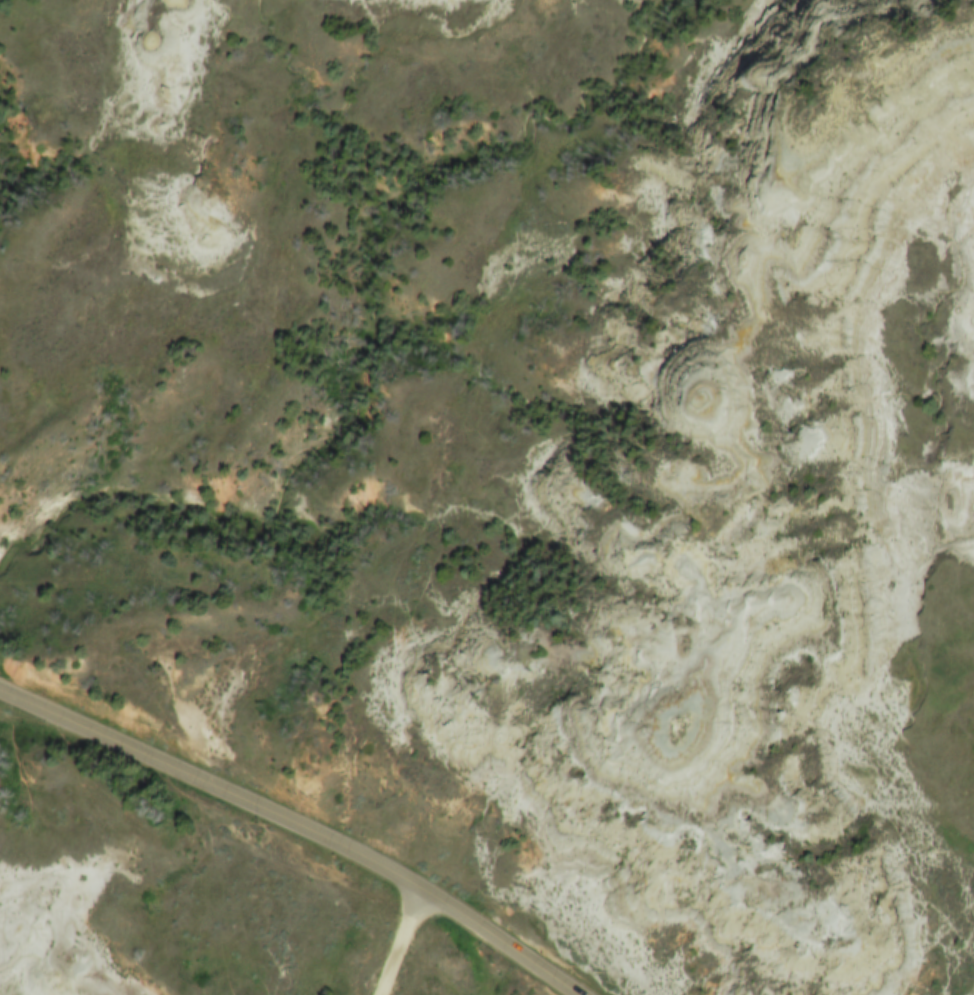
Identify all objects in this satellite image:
road: (299, 828)
road: (408, 943)

